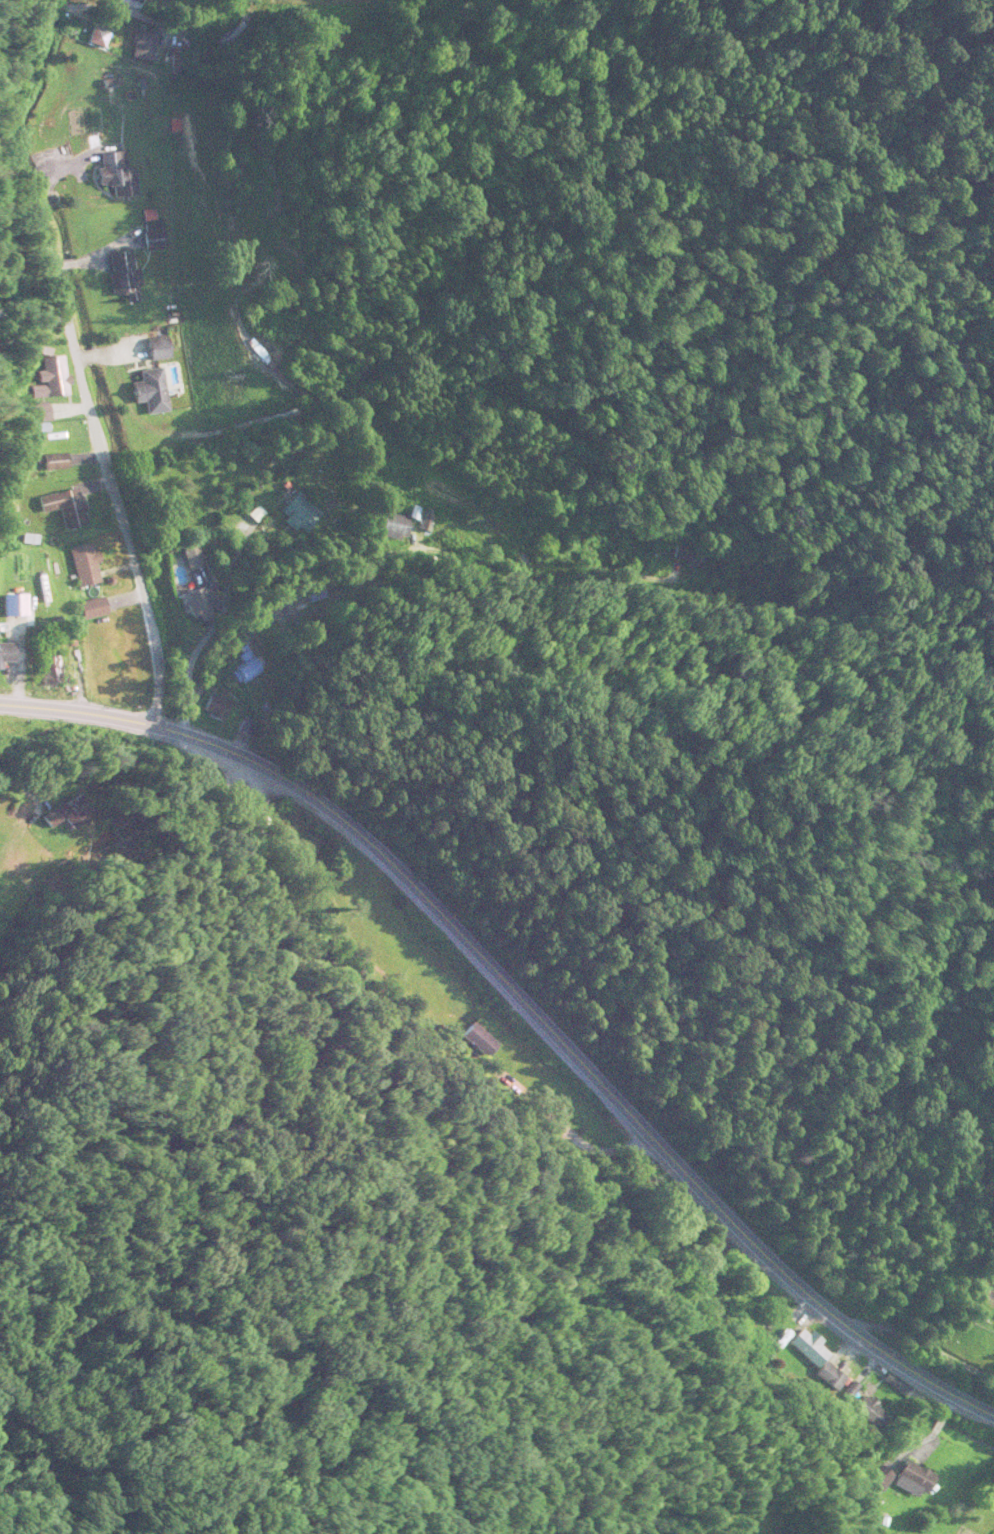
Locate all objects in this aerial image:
road: (159, 25)
road: (75, 361)
building: (150, 392)
building: (69, 511)
building: (296, 514)
building: (188, 559)
road: (454, 560)
building: (82, 566)
building: (313, 593)
building: (11, 605)
building: (190, 606)
building: (90, 609)
building: (3, 653)
building: (242, 671)
building: (44, 673)
road: (526, 1007)

